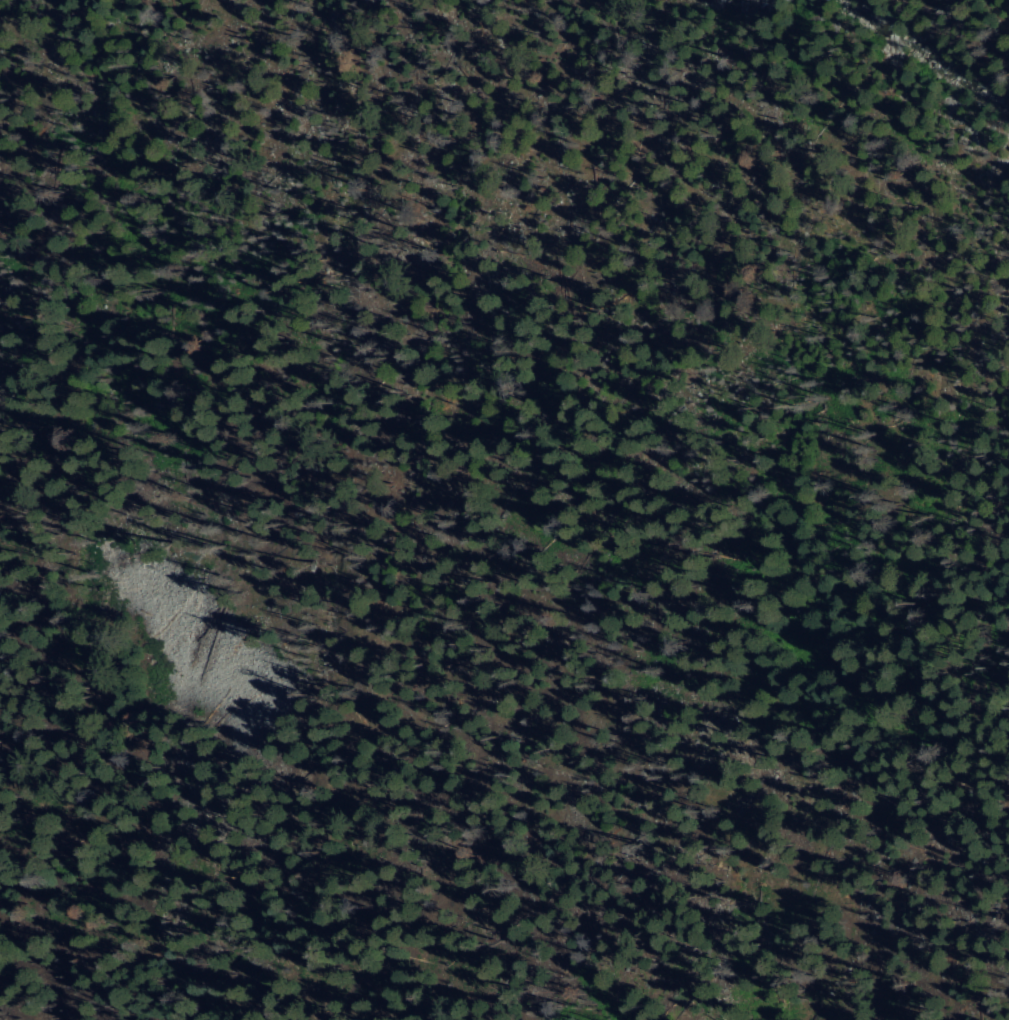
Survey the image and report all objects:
river: (926, 59)

